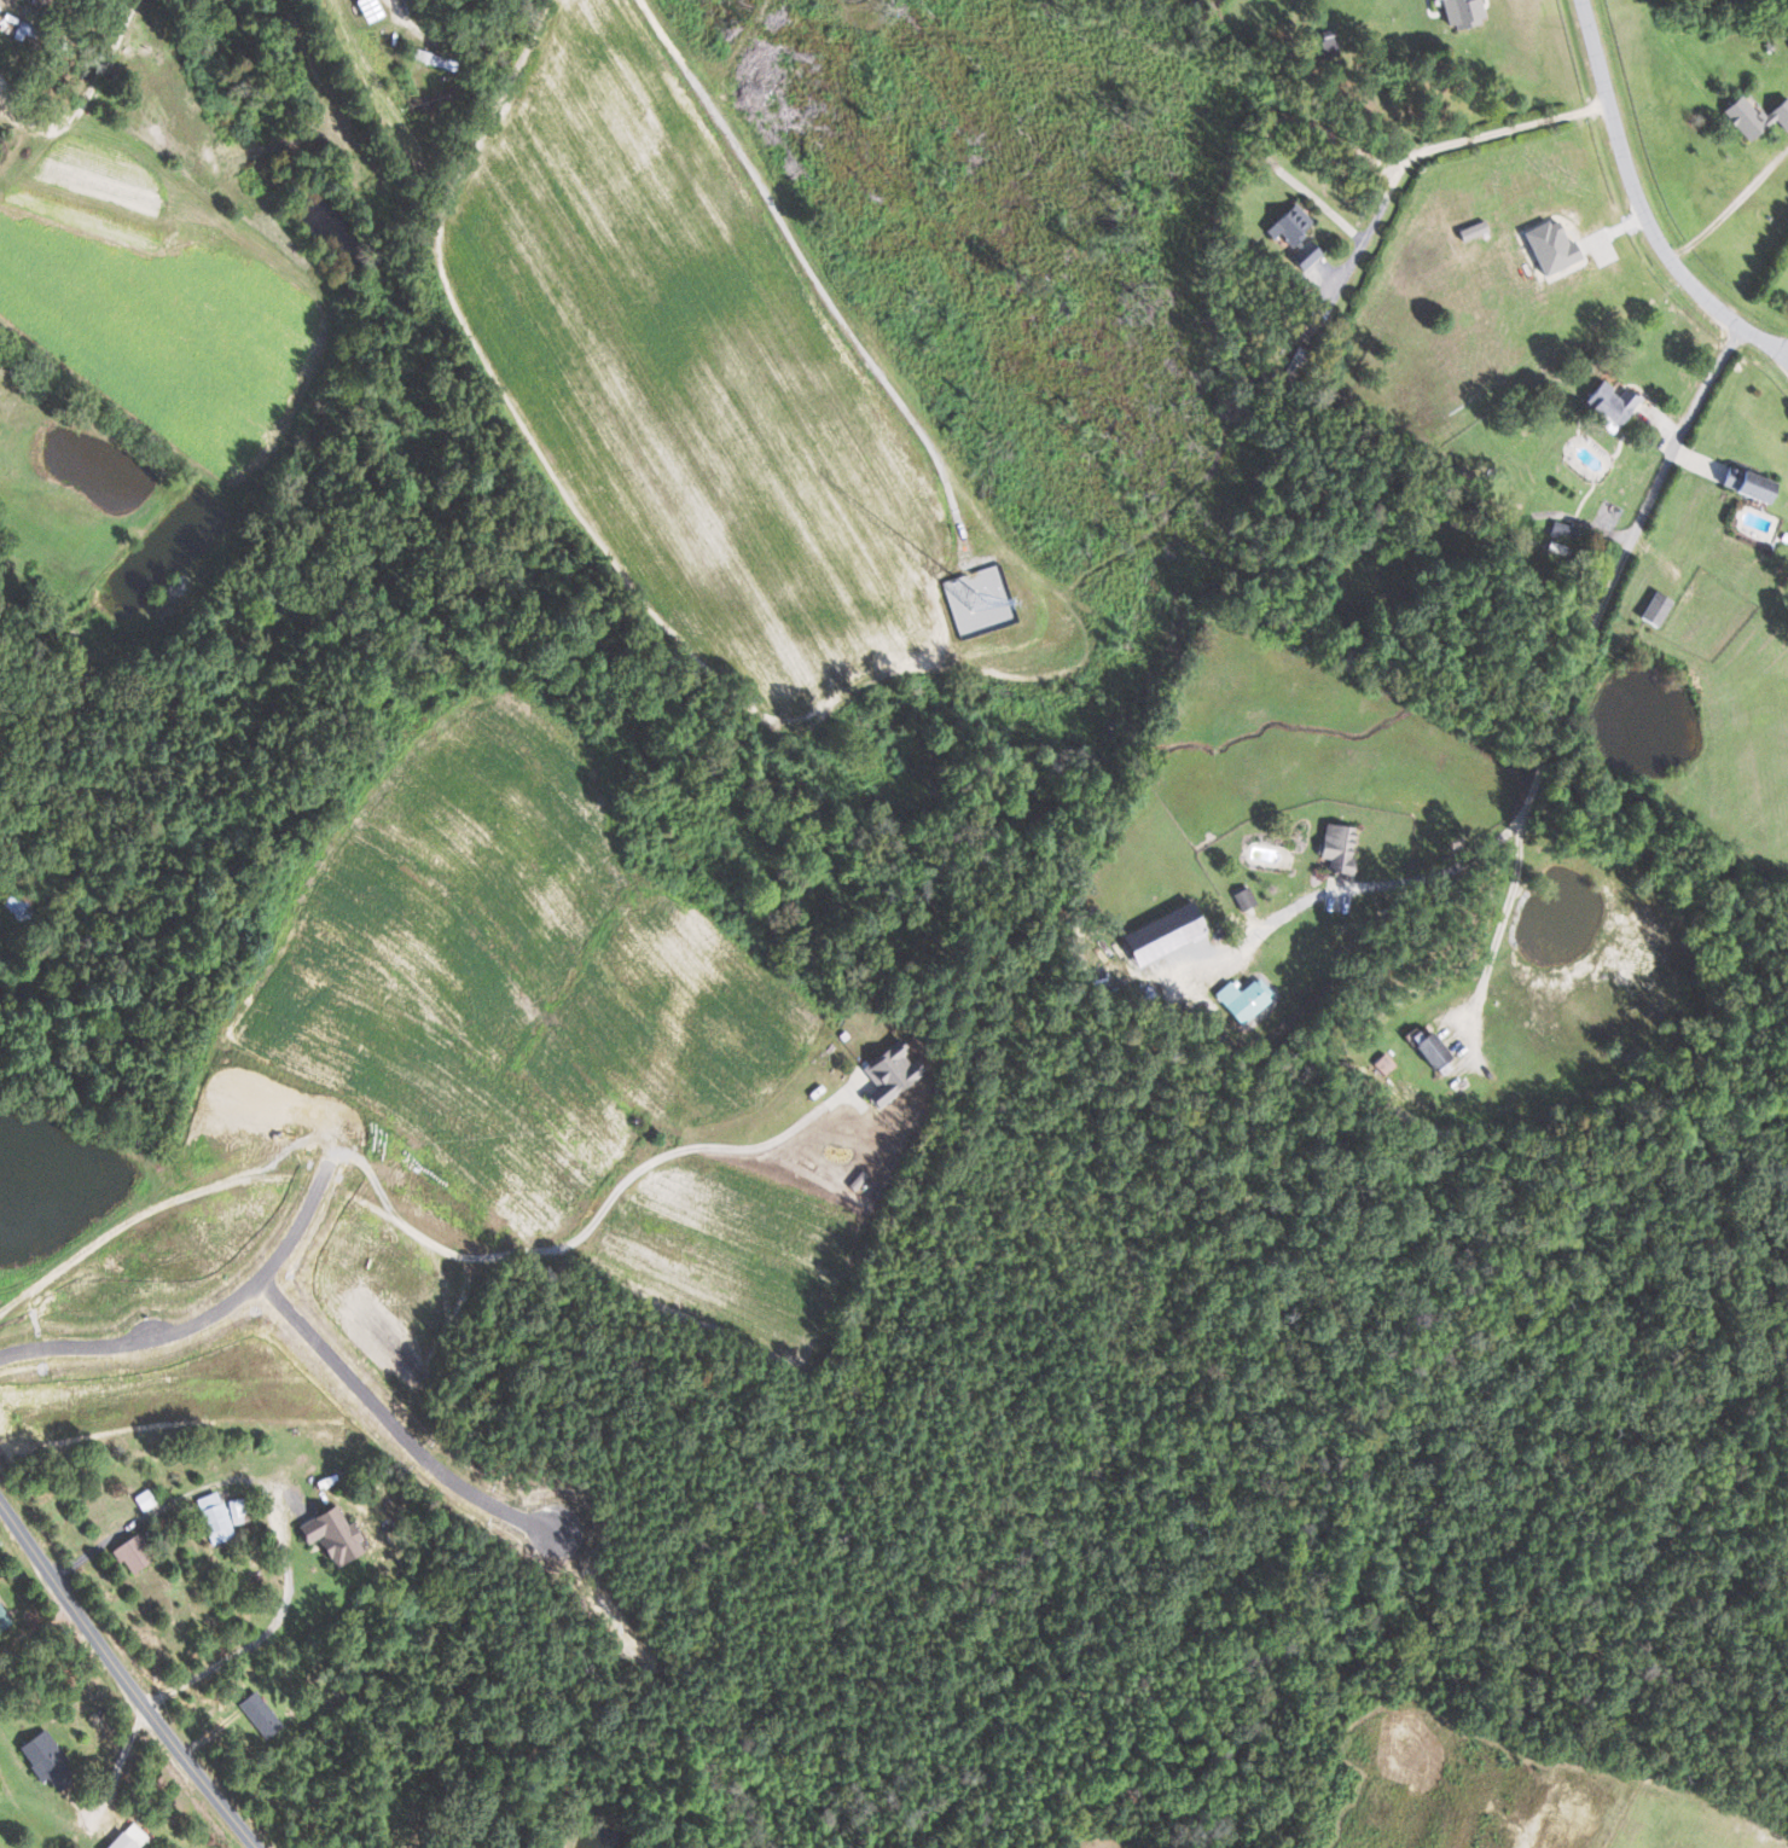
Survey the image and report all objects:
building: (27, 0)
building: (1432, 0)
road: (401, 7)
building: (1461, 12)
building: (1328, 46)
road: (81, 109)
building: (1754, 116)
road: (1266, 133)
road: (1435, 144)
road: (1638, 208)
road: (1729, 208)
building: (1289, 223)
building: (1549, 244)
building: (1305, 254)
building: (1609, 403)
building: (1747, 486)
building: (1654, 609)
road: (1548, 750)
building: (1336, 847)
building: (1242, 897)
road: (1505, 916)
building: (1161, 934)
building: (1243, 999)
building: (1429, 1051)
building: (1384, 1064)
building: (890, 1074)
road: (430, 1240)
building: (143, 1499)
building: (236, 1510)
road: (272, 1512)
building: (213, 1516)
building: (329, 1534)
building: (130, 1553)
building: (1, 1620)
road: (123, 1680)
building: (259, 1713)
building: (45, 1759)
building: (128, 1837)

